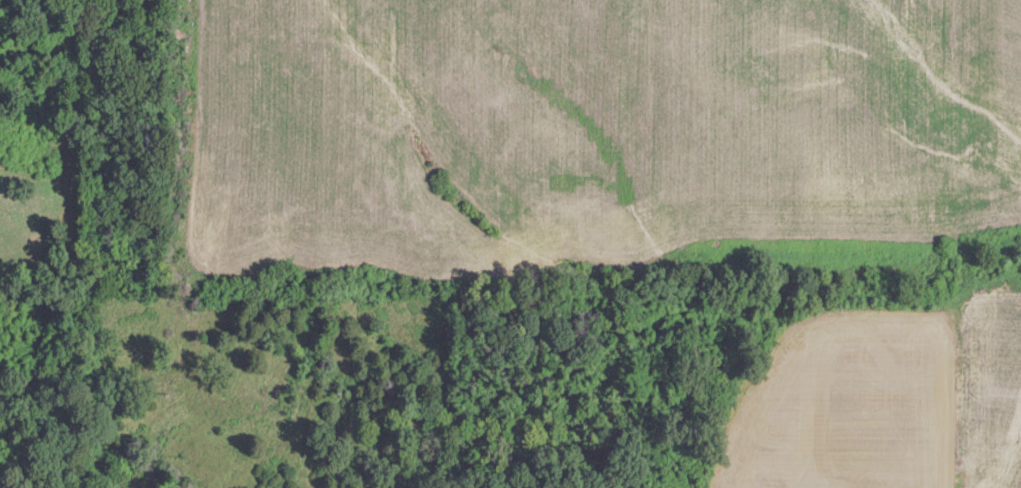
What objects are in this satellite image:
crop: (589, 131)
crop: (992, 389)

